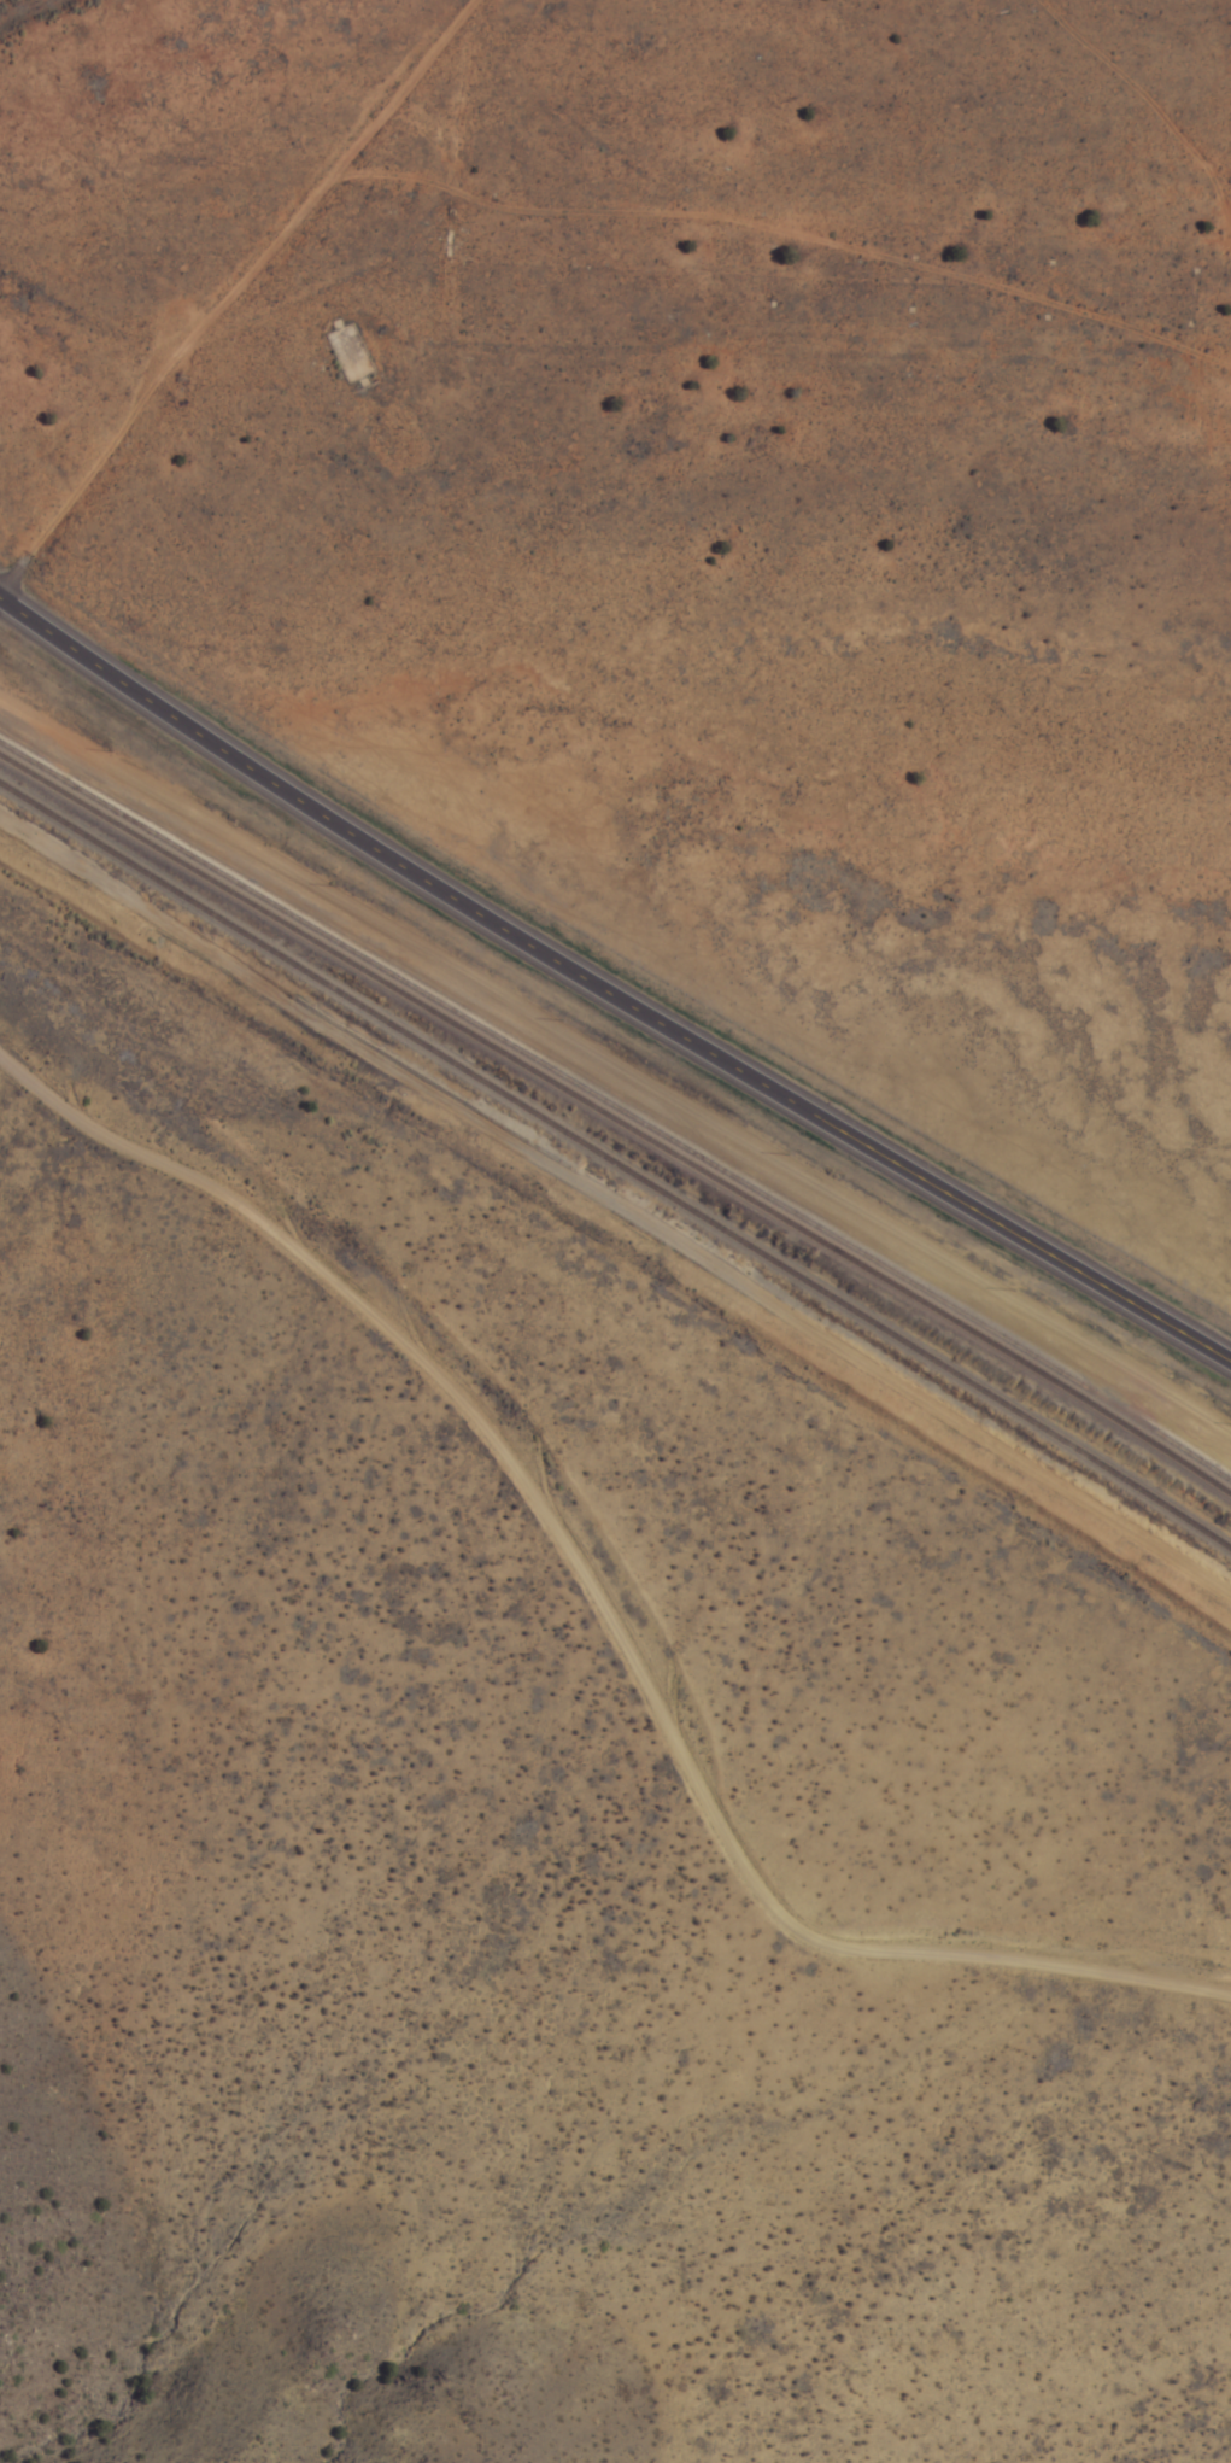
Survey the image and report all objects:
road: (541, 45)
road: (256, 314)
road: (615, 988)
railway: (617, 1096)
railway: (617, 1111)
railway: (616, 1153)
road: (605, 1598)

